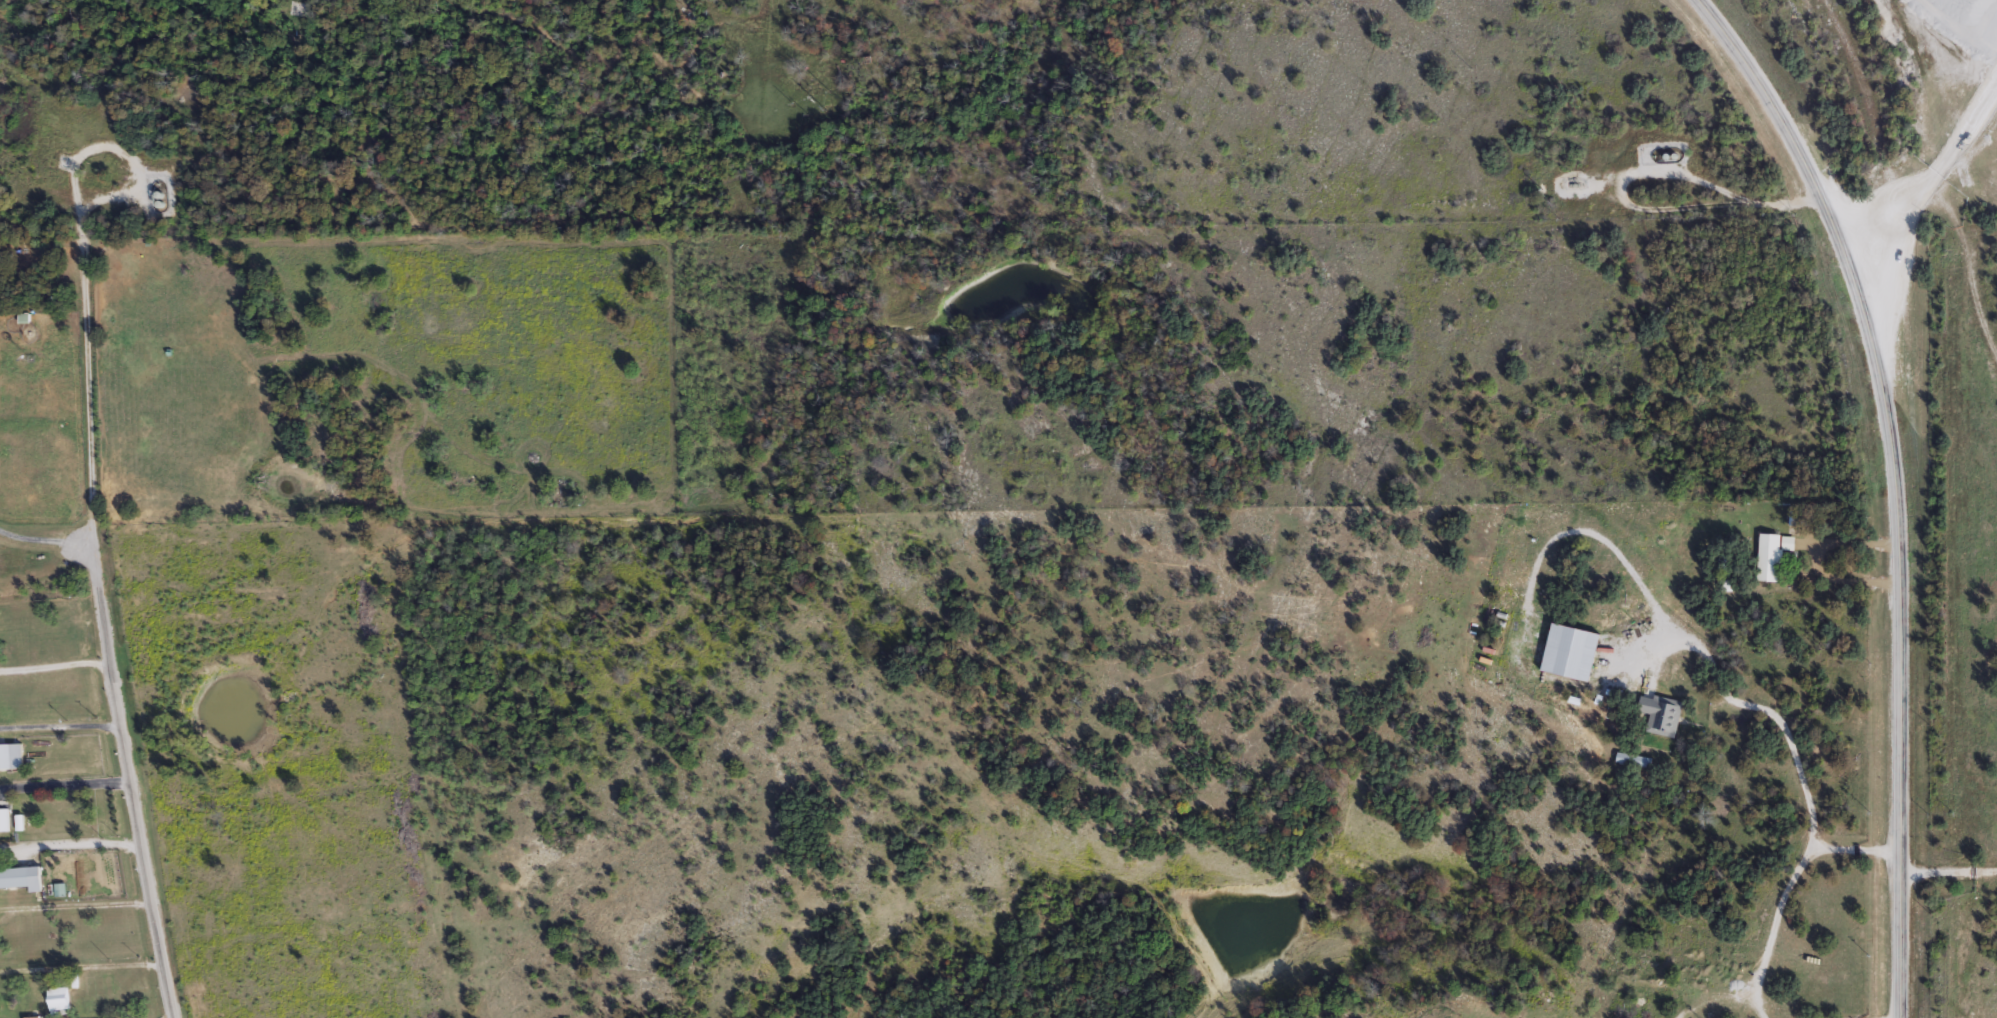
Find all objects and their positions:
quarry: (1957, 65)
road: (1934, 150)
road: (81, 273)
road: (1894, 485)
road: (43, 539)
building: (1785, 543)
road: (1848, 545)
building: (1765, 557)
road: (1842, 585)
building: (1566, 652)
road: (52, 667)
building: (1659, 715)
road: (58, 725)
road: (1792, 750)
building: (5, 756)
building: (1632, 760)
road: (125, 779)
road: (62, 787)
building: (4, 820)
road: (67, 843)
road: (1948, 872)
building: (21, 878)
road: (73, 906)
road: (1773, 928)
building: (58, 999)

